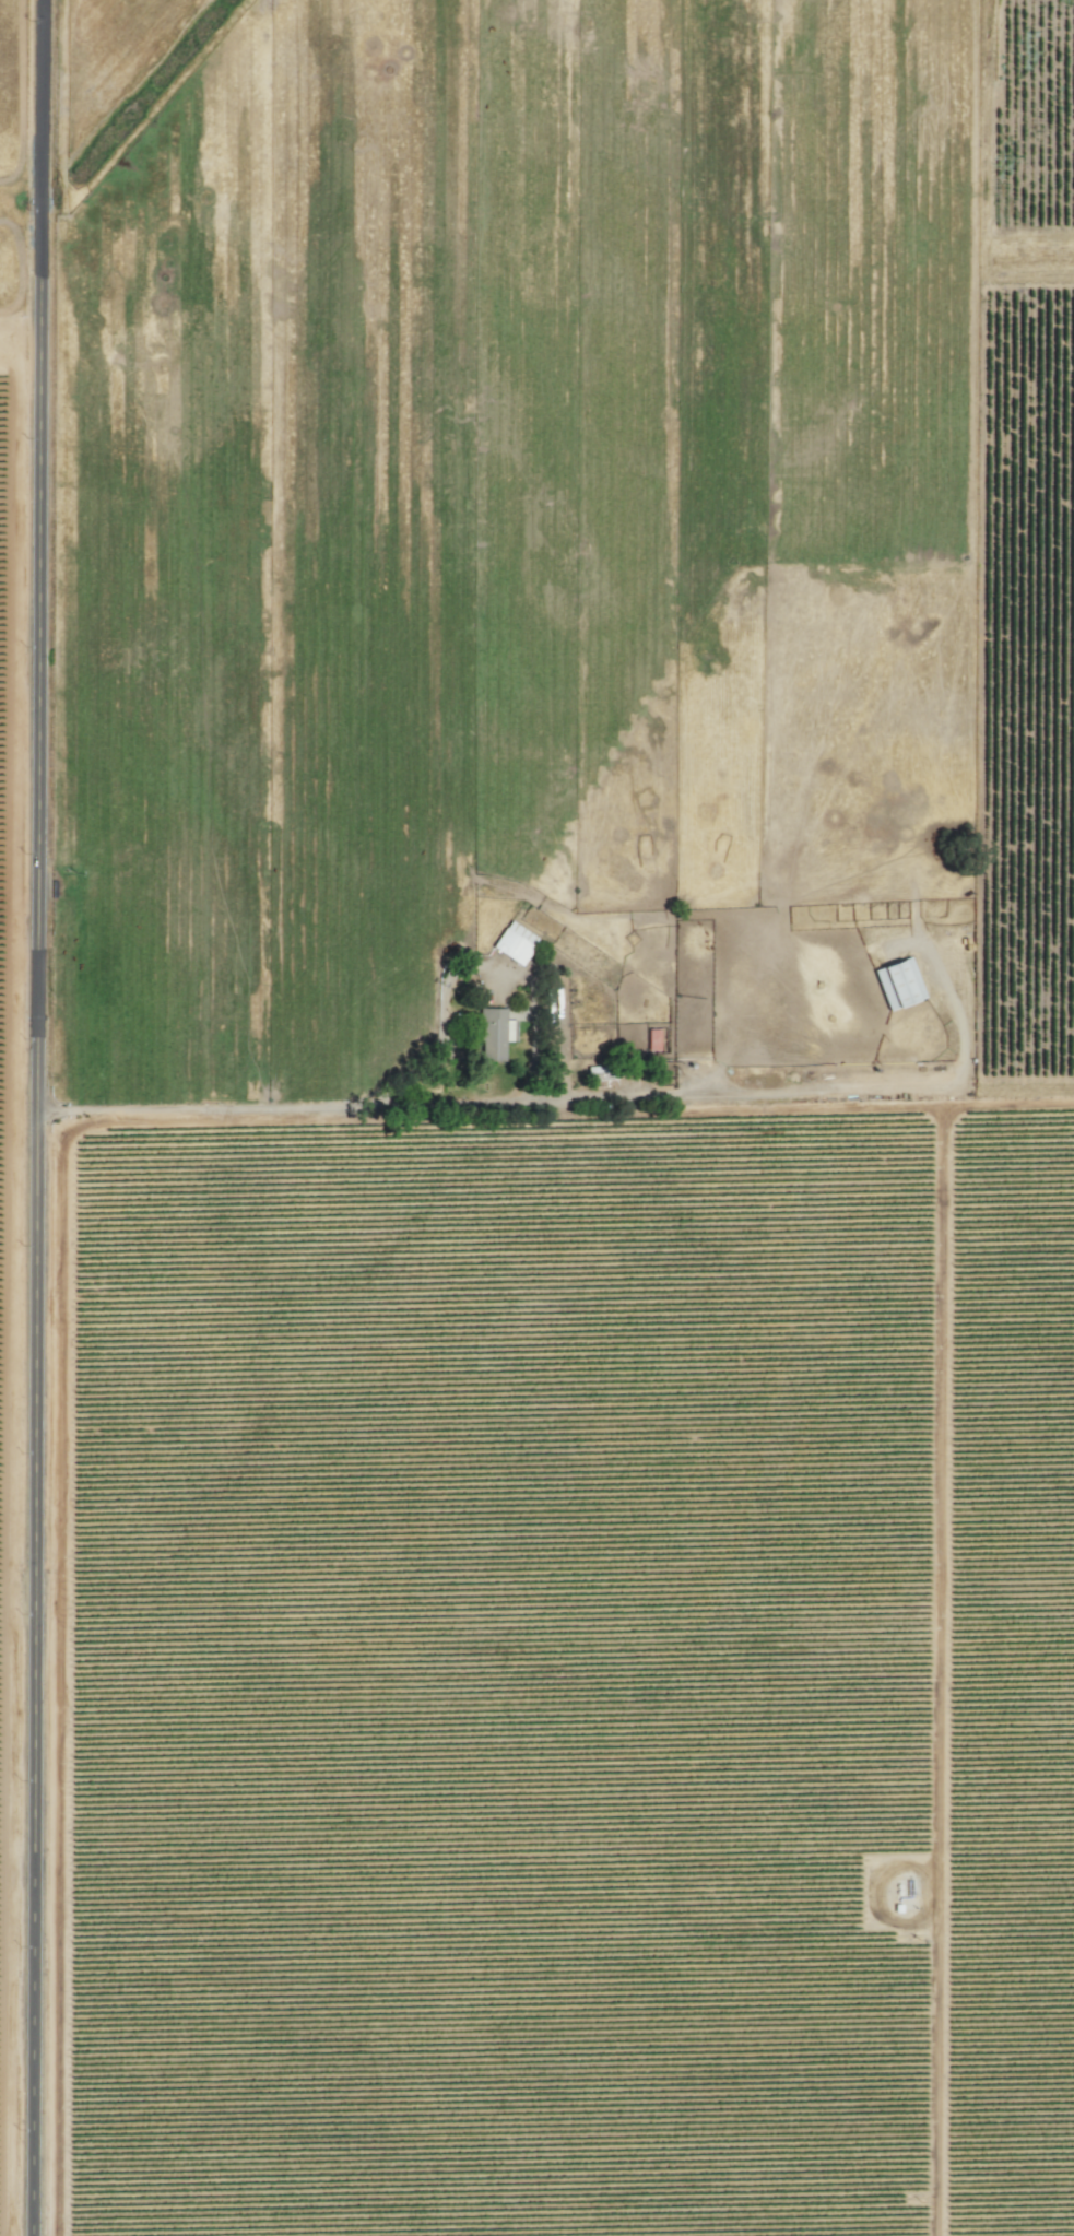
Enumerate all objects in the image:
building: (515, 942)
building: (899, 984)
road: (958, 1025)
building: (495, 1033)
building: (653, 1039)
road: (43, 1118)
road: (557, 1118)
road: (939, 1672)

